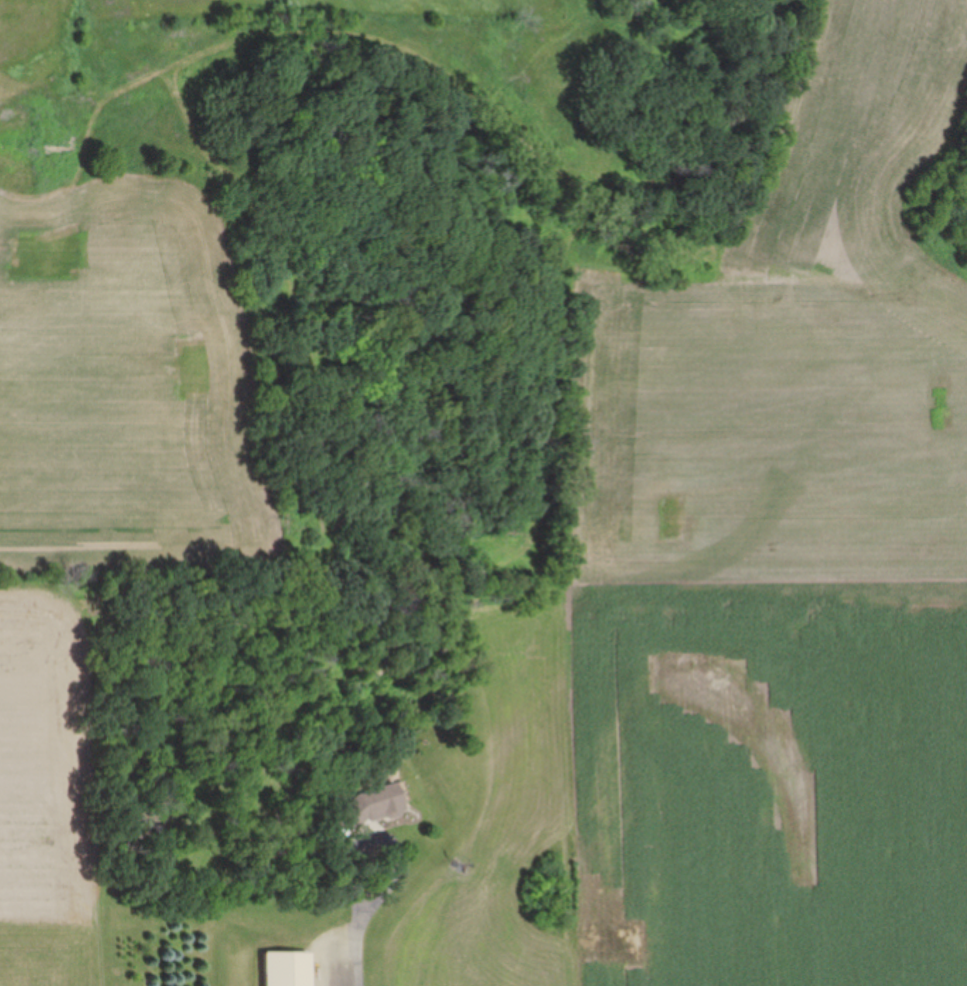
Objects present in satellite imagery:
building: (372, 804)
road: (367, 875)
road: (366, 957)
building: (292, 968)

